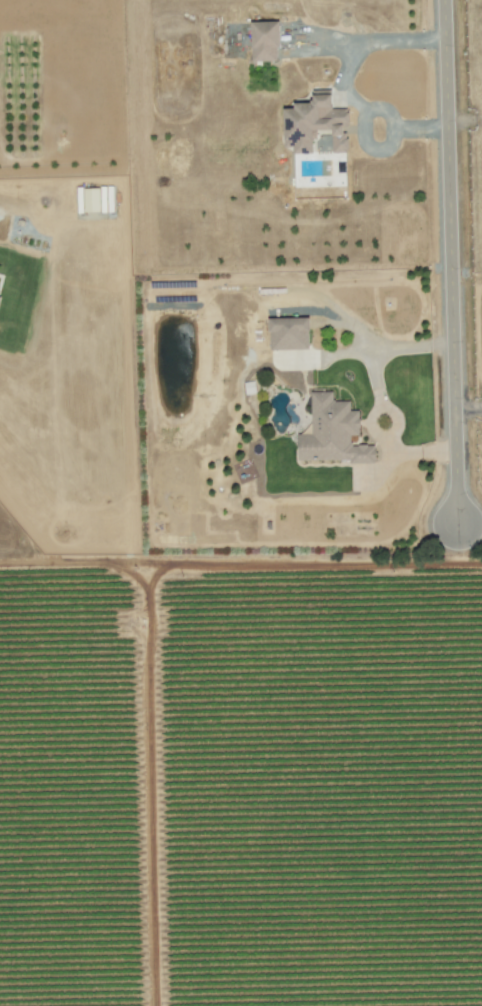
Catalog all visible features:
road: (374, 41)
building: (264, 42)
building: (314, 124)
building: (102, 199)
building: (91, 200)
road: (448, 266)
building: (288, 333)
road: (380, 411)
building: (331, 433)
road: (411, 453)
road: (375, 474)
road: (241, 559)

